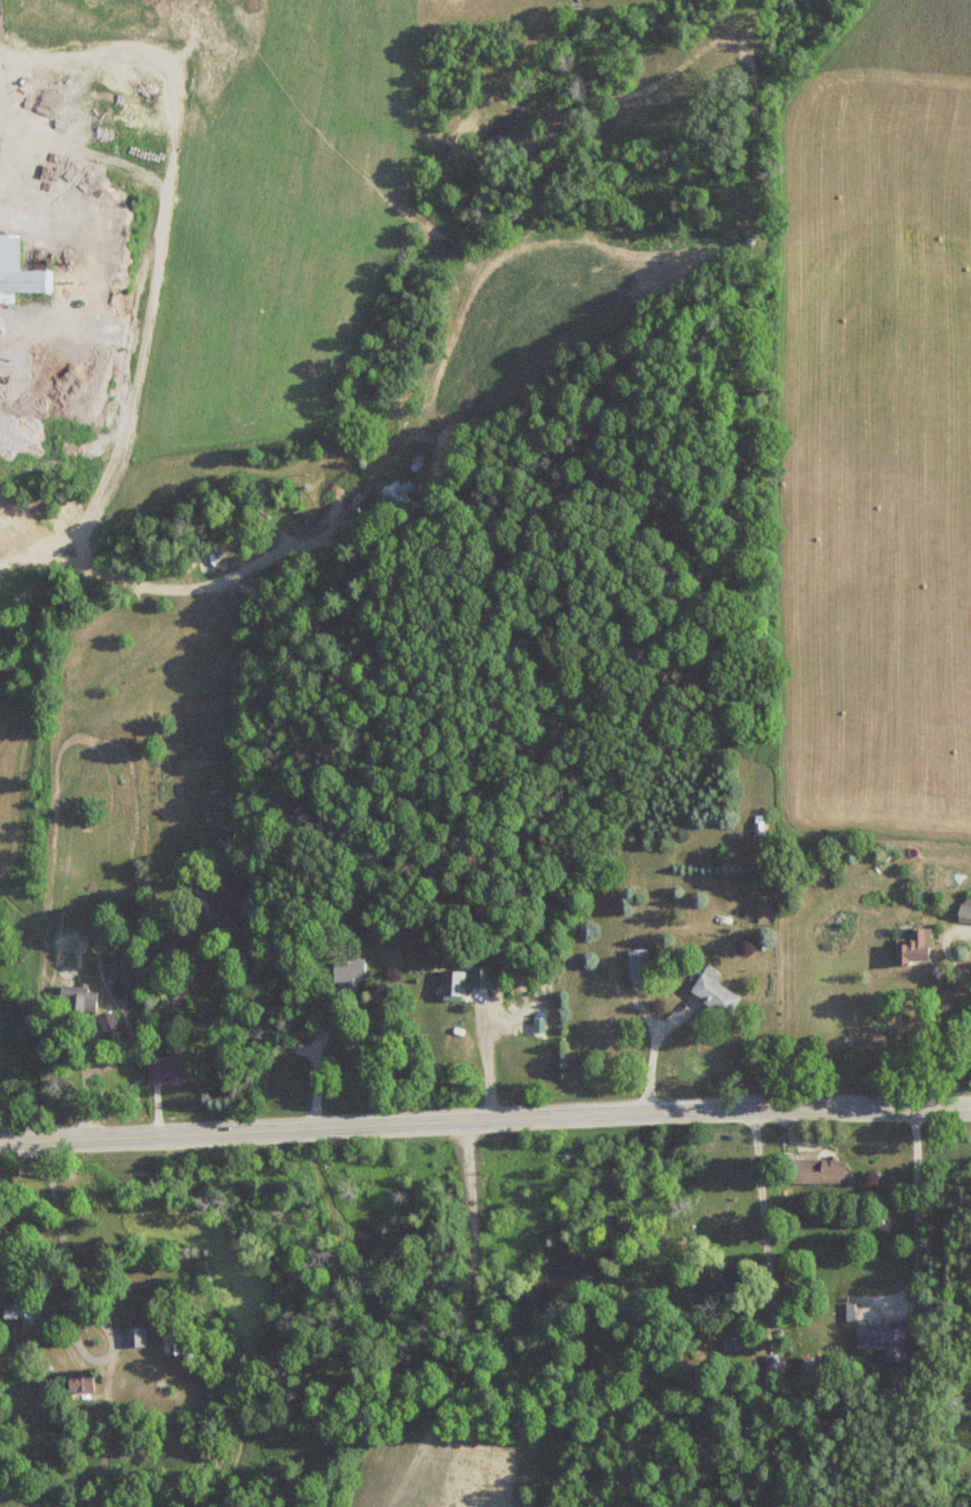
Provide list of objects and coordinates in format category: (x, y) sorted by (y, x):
building: (18, 270)
building: (396, 494)
building: (227, 897)
building: (964, 908)
building: (918, 943)
building: (636, 964)
building: (348, 970)
building: (464, 984)
building: (713, 993)
road: (485, 1113)
building: (815, 1172)
building: (20, 1311)
building: (875, 1314)
building: (132, 1337)
building: (169, 1343)
building: (893, 1344)
building: (78, 1383)

